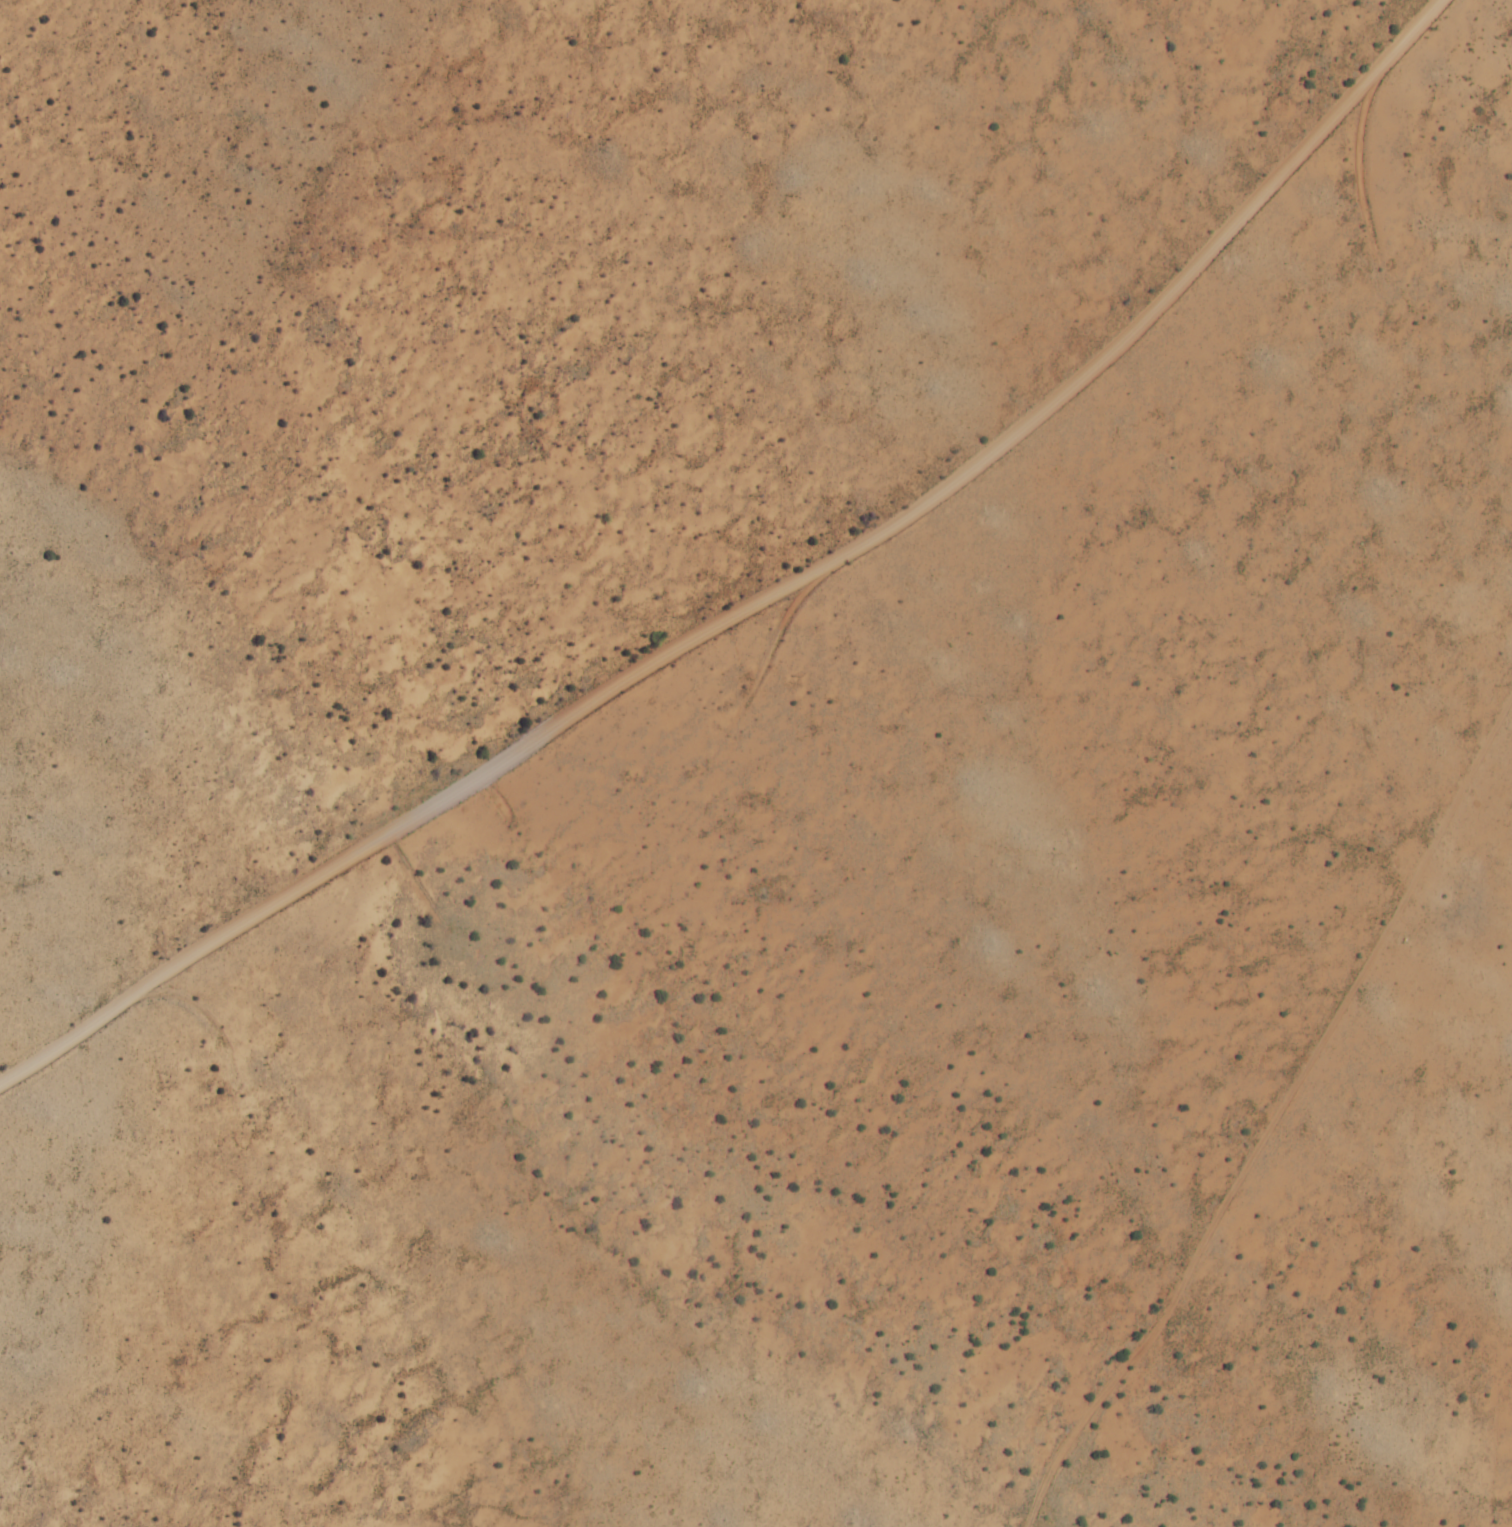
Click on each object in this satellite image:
road: (767, 599)
road: (1180, 745)
road: (1283, 1112)

